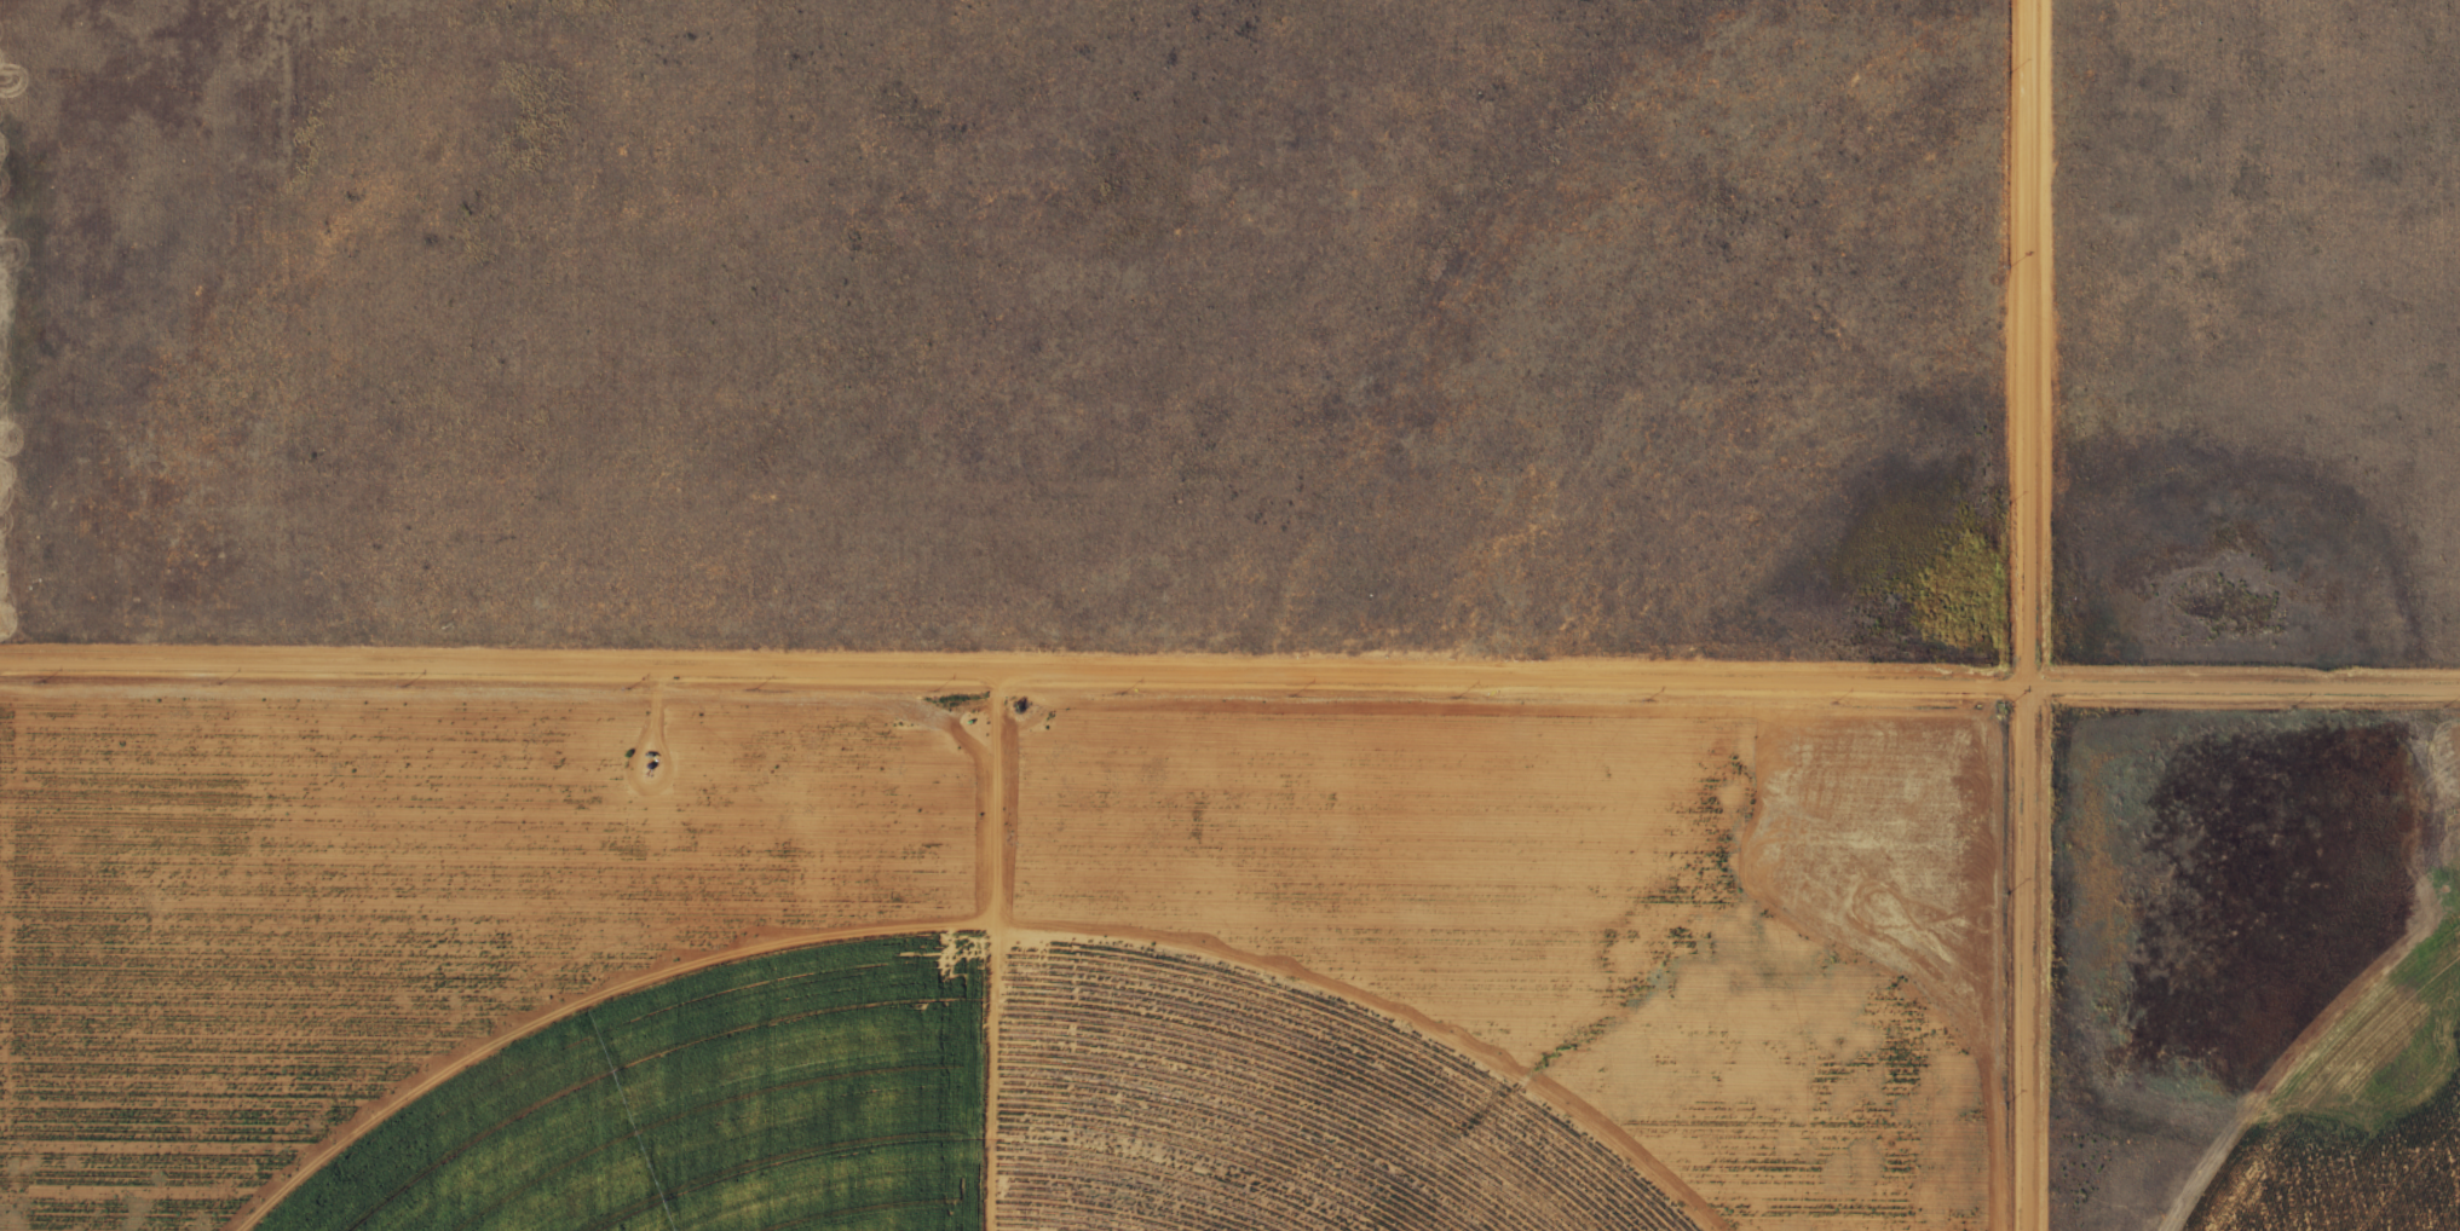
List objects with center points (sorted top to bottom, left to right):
road: (2067, 615)
road: (1229, 675)
road: (863, 950)

